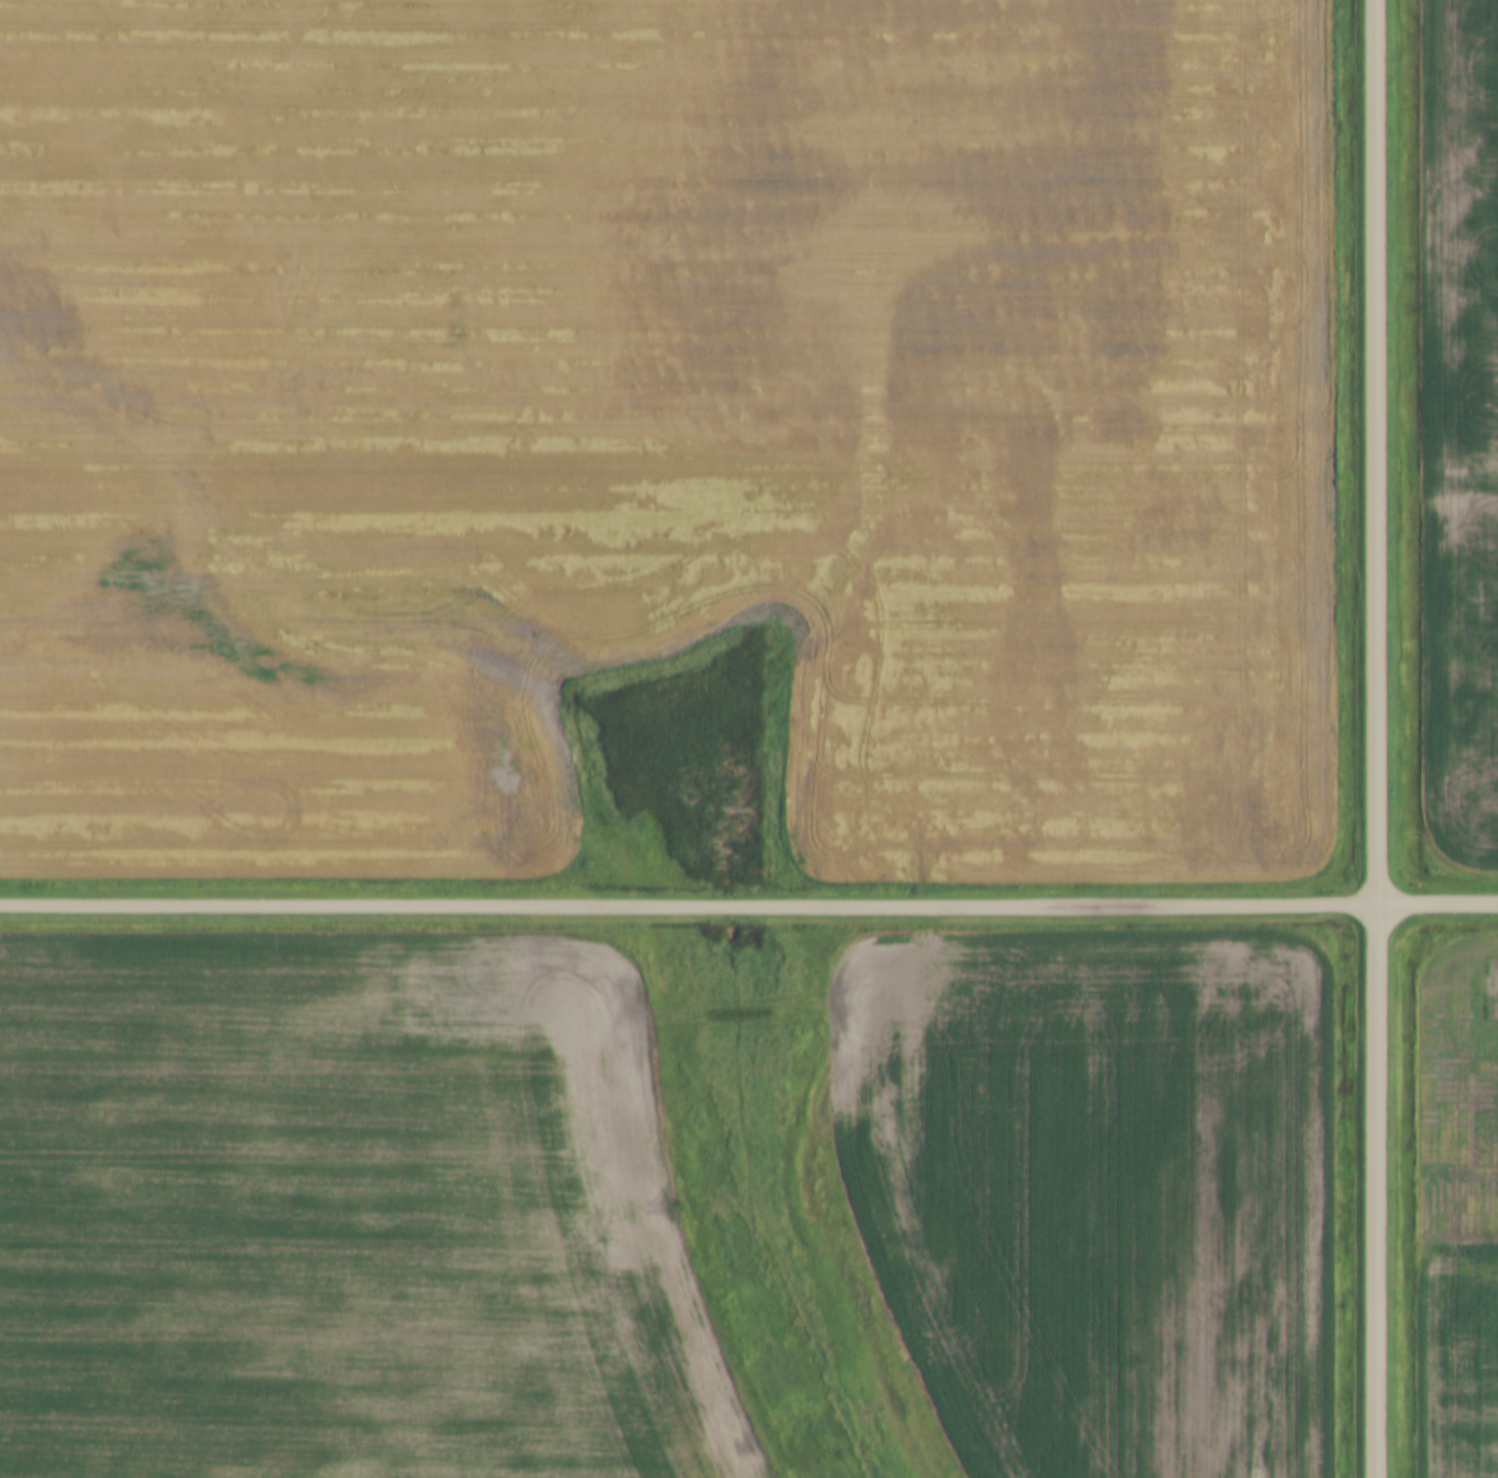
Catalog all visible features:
road: (1376, 454)
road: (687, 908)
road: (1437, 909)
road: (1375, 1193)

